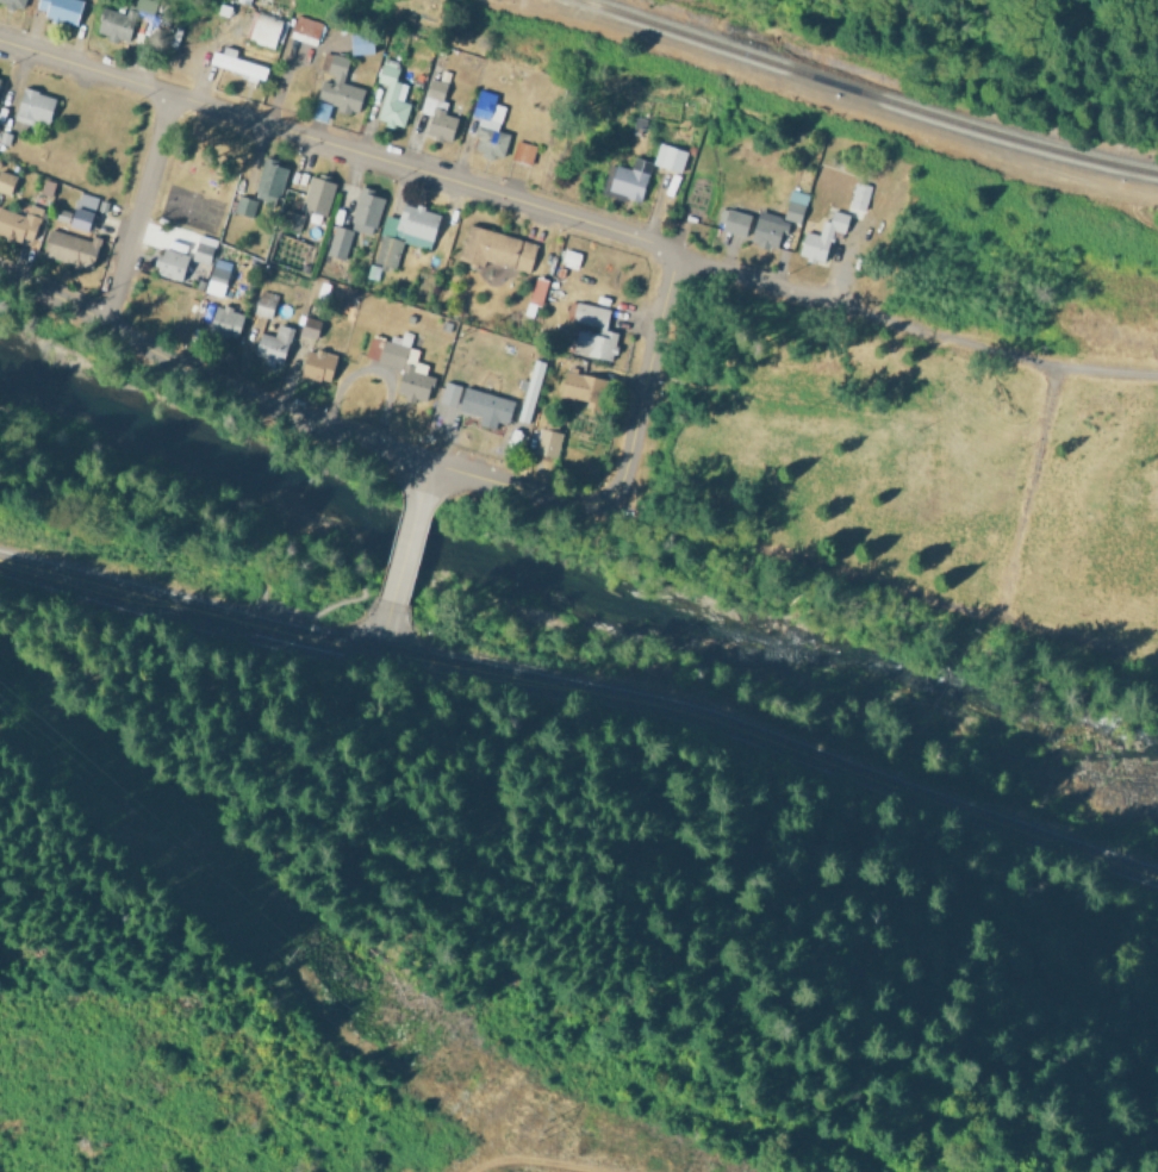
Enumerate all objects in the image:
building: (13, 2)
building: (60, 8)
building: (122, 19)
building: (266, 29)
building: (305, 29)
building: (360, 42)
building: (237, 63)
building: (337, 86)
building: (391, 94)
railway: (864, 95)
building: (33, 105)
building: (320, 110)
building: (436, 111)
building: (487, 124)
road: (334, 151)
building: (522, 151)
building: (668, 156)
building: (270, 176)
building: (630, 177)
building: (6, 181)
park: (200, 185)
building: (317, 194)
building: (858, 194)
building: (243, 204)
building: (795, 205)
building: (366, 206)
building: (82, 211)
road: (138, 213)
building: (289, 219)
building: (736, 220)
building: (20, 222)
building: (767, 229)
building: (404, 232)
building: (823, 236)
building: (337, 239)
building: (70, 247)
building: (203, 248)
building: (496, 248)
building: (569, 257)
building: (172, 263)
building: (217, 276)
building: (537, 289)
road: (790, 300)
building: (226, 318)
building: (592, 330)
building: (274, 344)
building: (319, 362)
building: (401, 363)
road: (1034, 370)
road: (642, 386)
building: (583, 387)
building: (529, 389)
building: (475, 403)
road: (292, 426)
building: (546, 441)
road: (431, 486)
road: (1009, 553)
road: (398, 556)
river: (571, 591)
road: (362, 629)
road: (586, 690)
road: (528, 1161)

